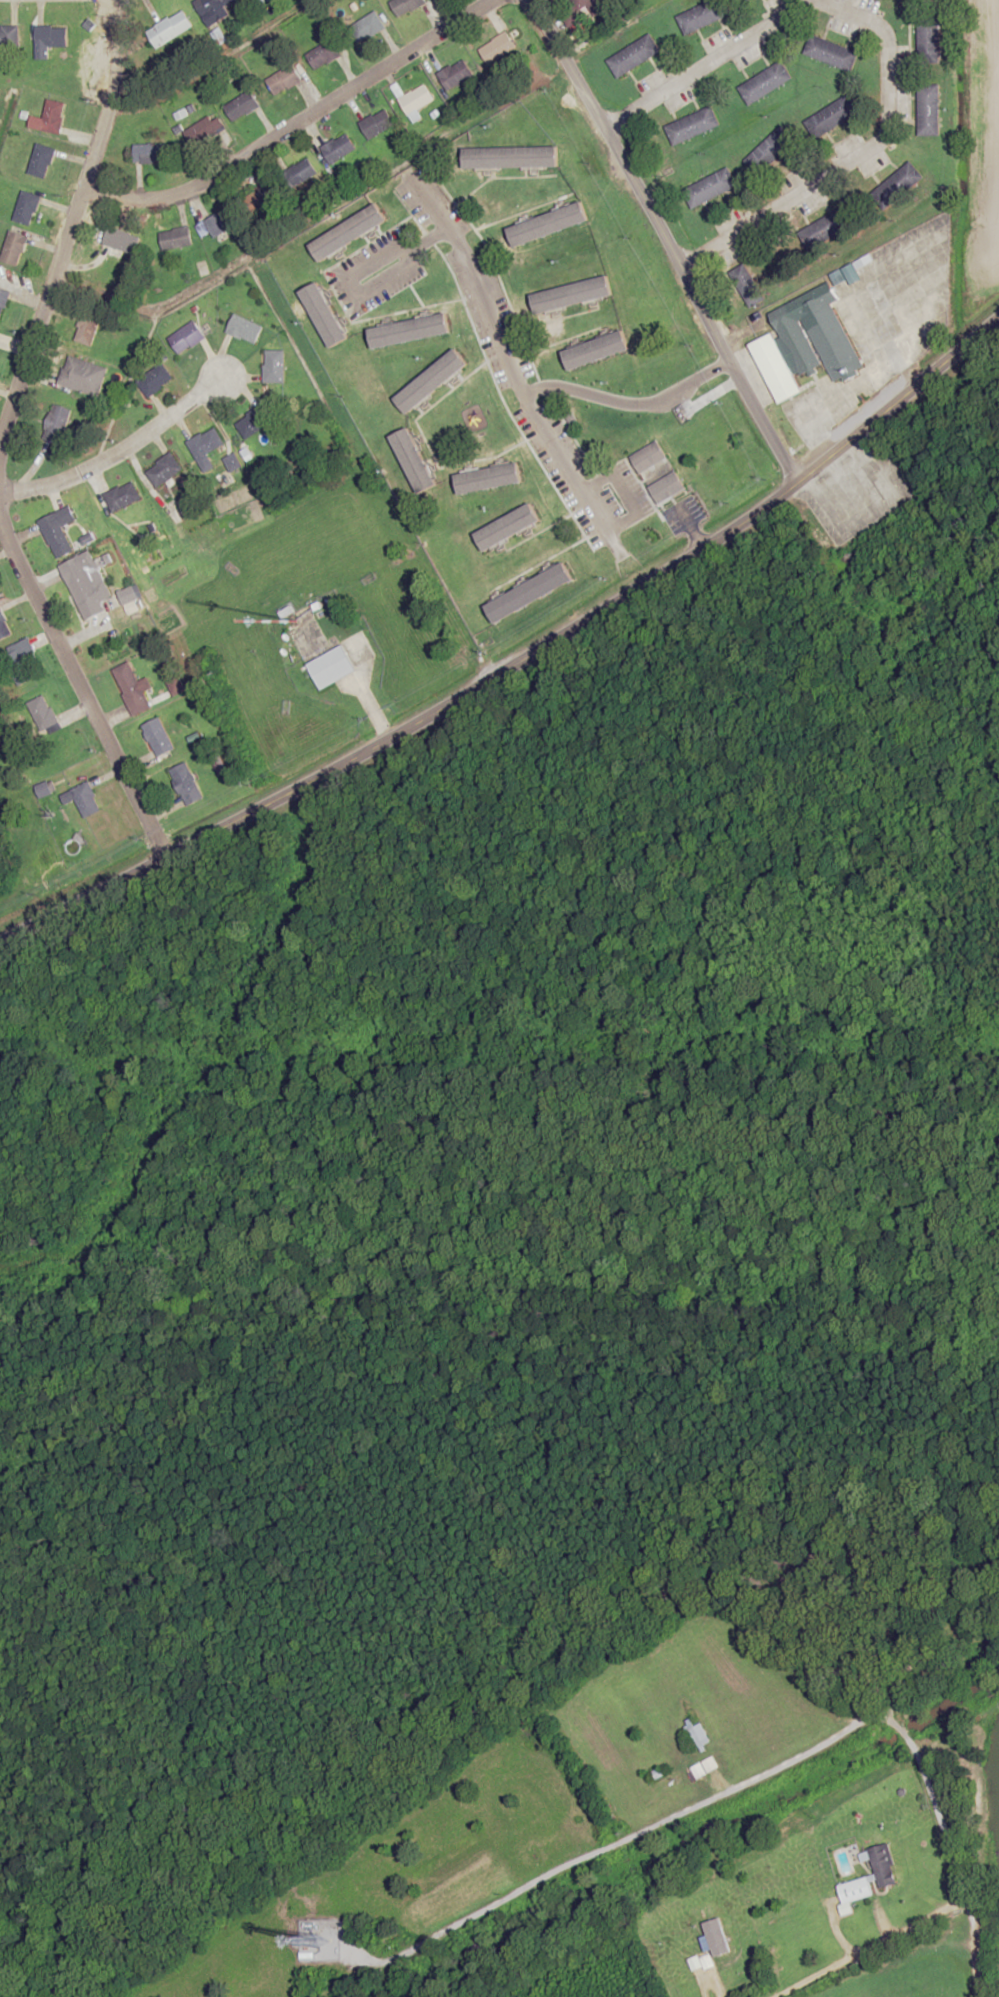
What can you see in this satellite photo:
building: (746, 0)
building: (594, 5)
building: (405, 6)
building: (212, 8)
building: (702, 16)
building: (366, 27)
building: (169, 29)
building: (50, 36)
building: (928, 37)
building: (498, 47)
building: (829, 53)
building: (323, 55)
building: (633, 56)
road: (707, 61)
building: (455, 75)
building: (283, 80)
building: (765, 83)
building: (415, 99)
building: (241, 106)
building: (928, 111)
building: (52, 116)
building: (832, 116)
road: (289, 123)
building: (376, 124)
building: (691, 126)
building: (206, 132)
building: (338, 148)
building: (769, 150)
building: (149, 153)
road: (849, 156)
building: (511, 157)
building: (40, 161)
building: (299, 173)
building: (897, 184)
building: (709, 188)
building: (262, 200)
building: (25, 208)
building: (217, 223)
building: (833, 223)
building: (548, 224)
building: (349, 233)
road: (658, 233)
building: (175, 238)
building: (116, 239)
building: (13, 249)
building: (746, 285)
building: (572, 295)
building: (3, 302)
building: (324, 315)
building: (86, 327)
building: (244, 329)
building: (825, 329)
building: (409, 331)
building: (186, 337)
building: (596, 350)
building: (273, 366)
building: (775, 368)
building: (81, 376)
building: (154, 380)
building: (431, 381)
road: (517, 382)
building: (254, 422)
building: (56, 424)
road: (8, 437)
building: (205, 443)
road: (120, 447)
building: (648, 458)
building: (414, 461)
building: (231, 464)
building: (163, 470)
building: (488, 478)
building: (666, 488)
parking lot: (853, 492)
building: (122, 497)
building: (507, 528)
building: (57, 531)
building: (84, 585)
building: (529, 593)
building: (128, 600)
building: (4, 627)
road: (521, 659)
building: (19, 661)
building: (330, 667)
road: (355, 685)
building: (130, 689)
building: (41, 713)
building: (157, 737)
building: (185, 784)
building: (84, 800)
railway: (499, 1036)
building: (699, 1735)
road: (767, 1770)
building: (884, 1866)
crop: (402, 1889)
building: (855, 1890)
building: (309, 1956)

